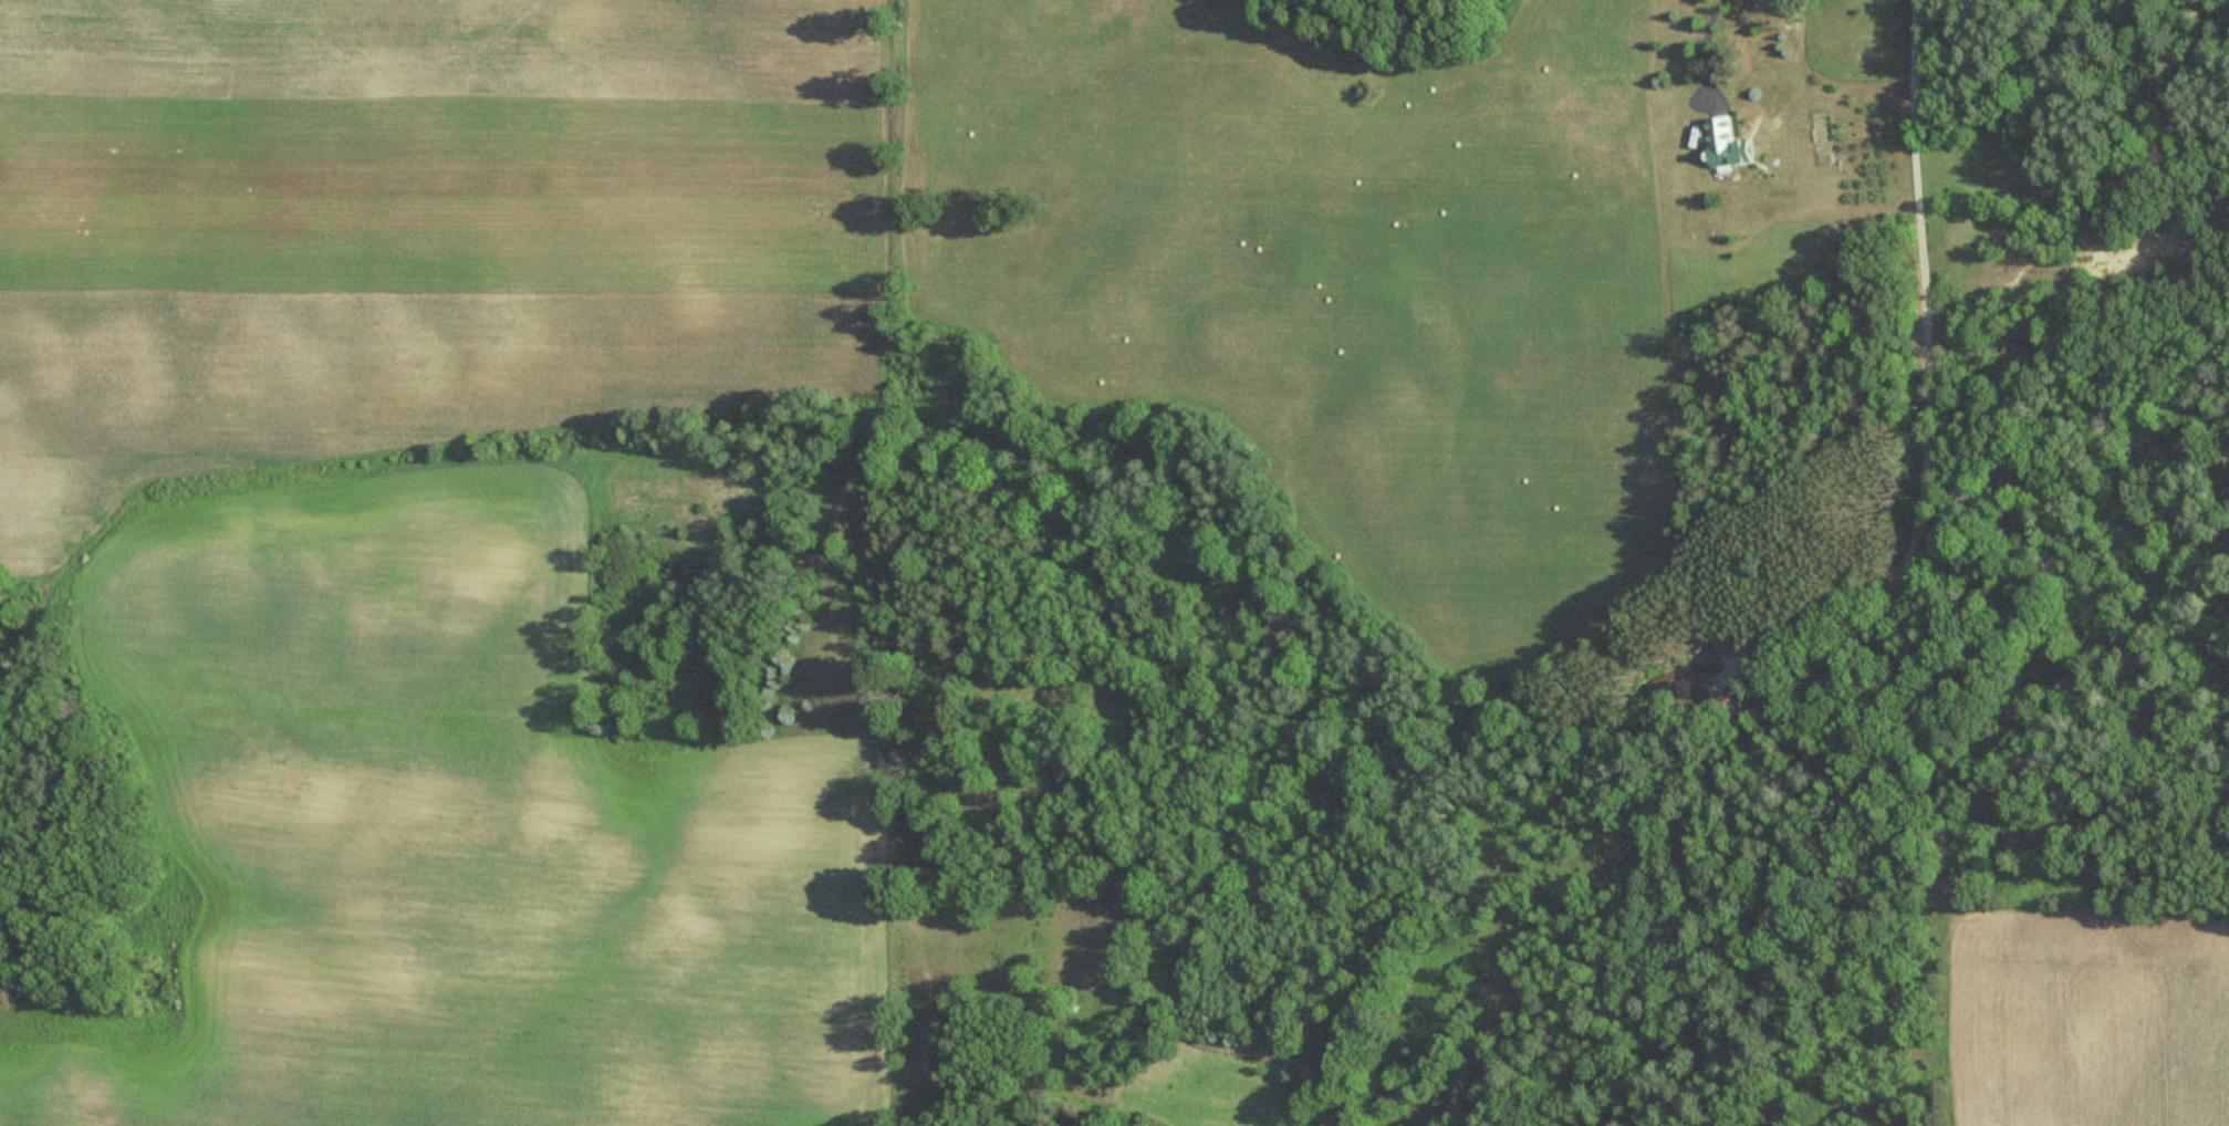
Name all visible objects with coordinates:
road: (1706, 39)
building: (1720, 140)

